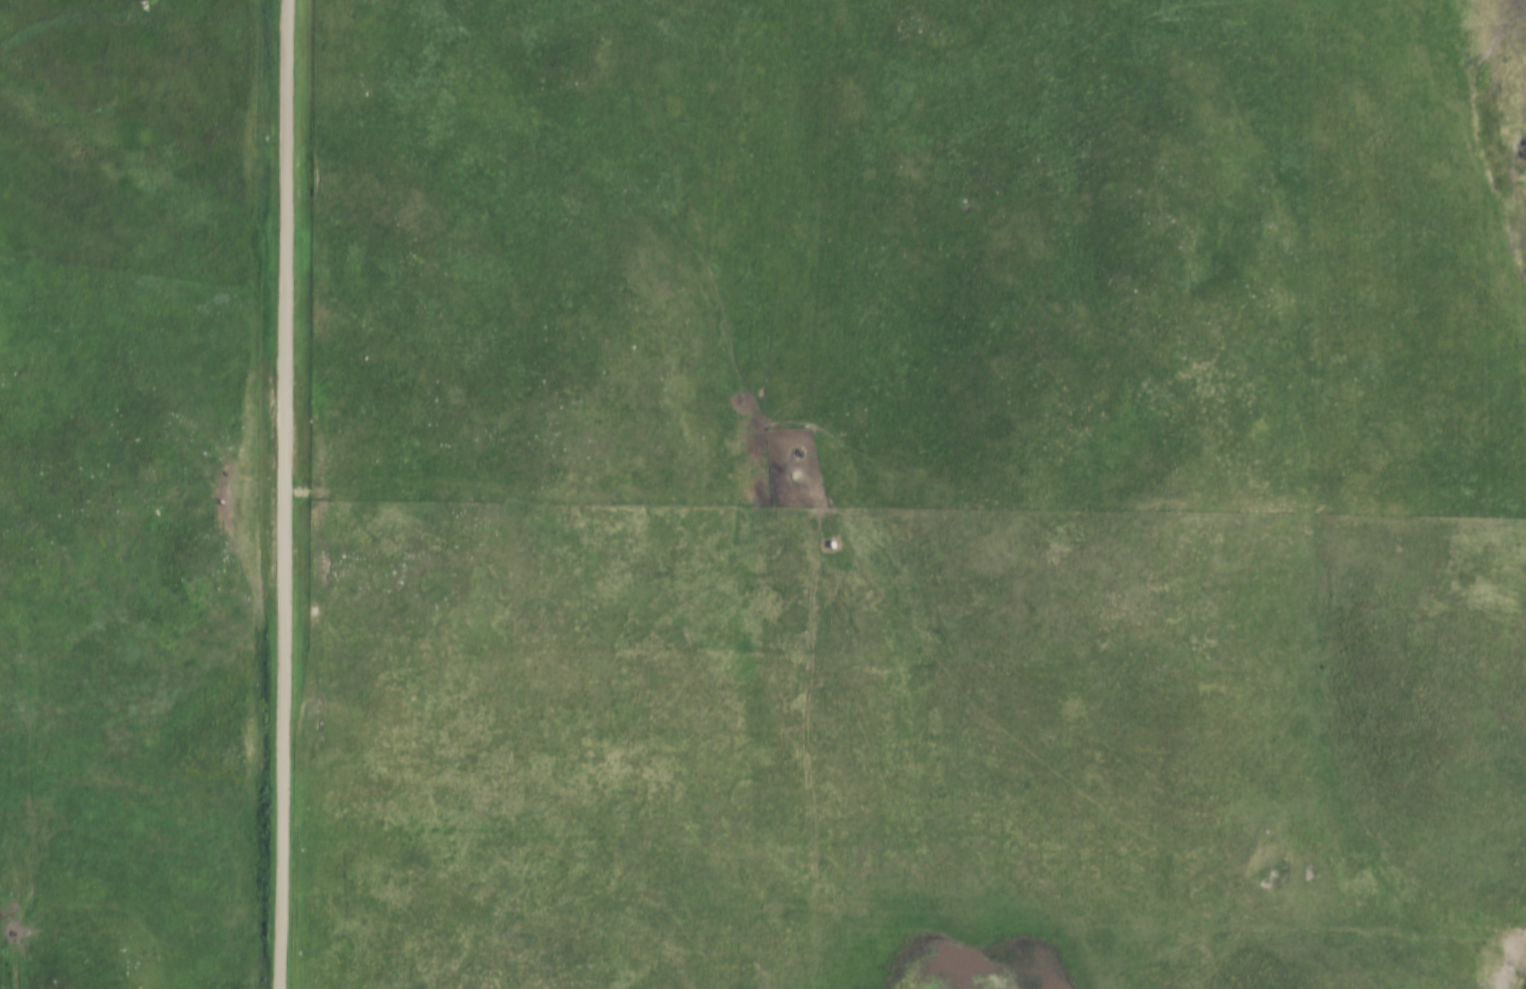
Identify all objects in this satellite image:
road: (290, 494)

